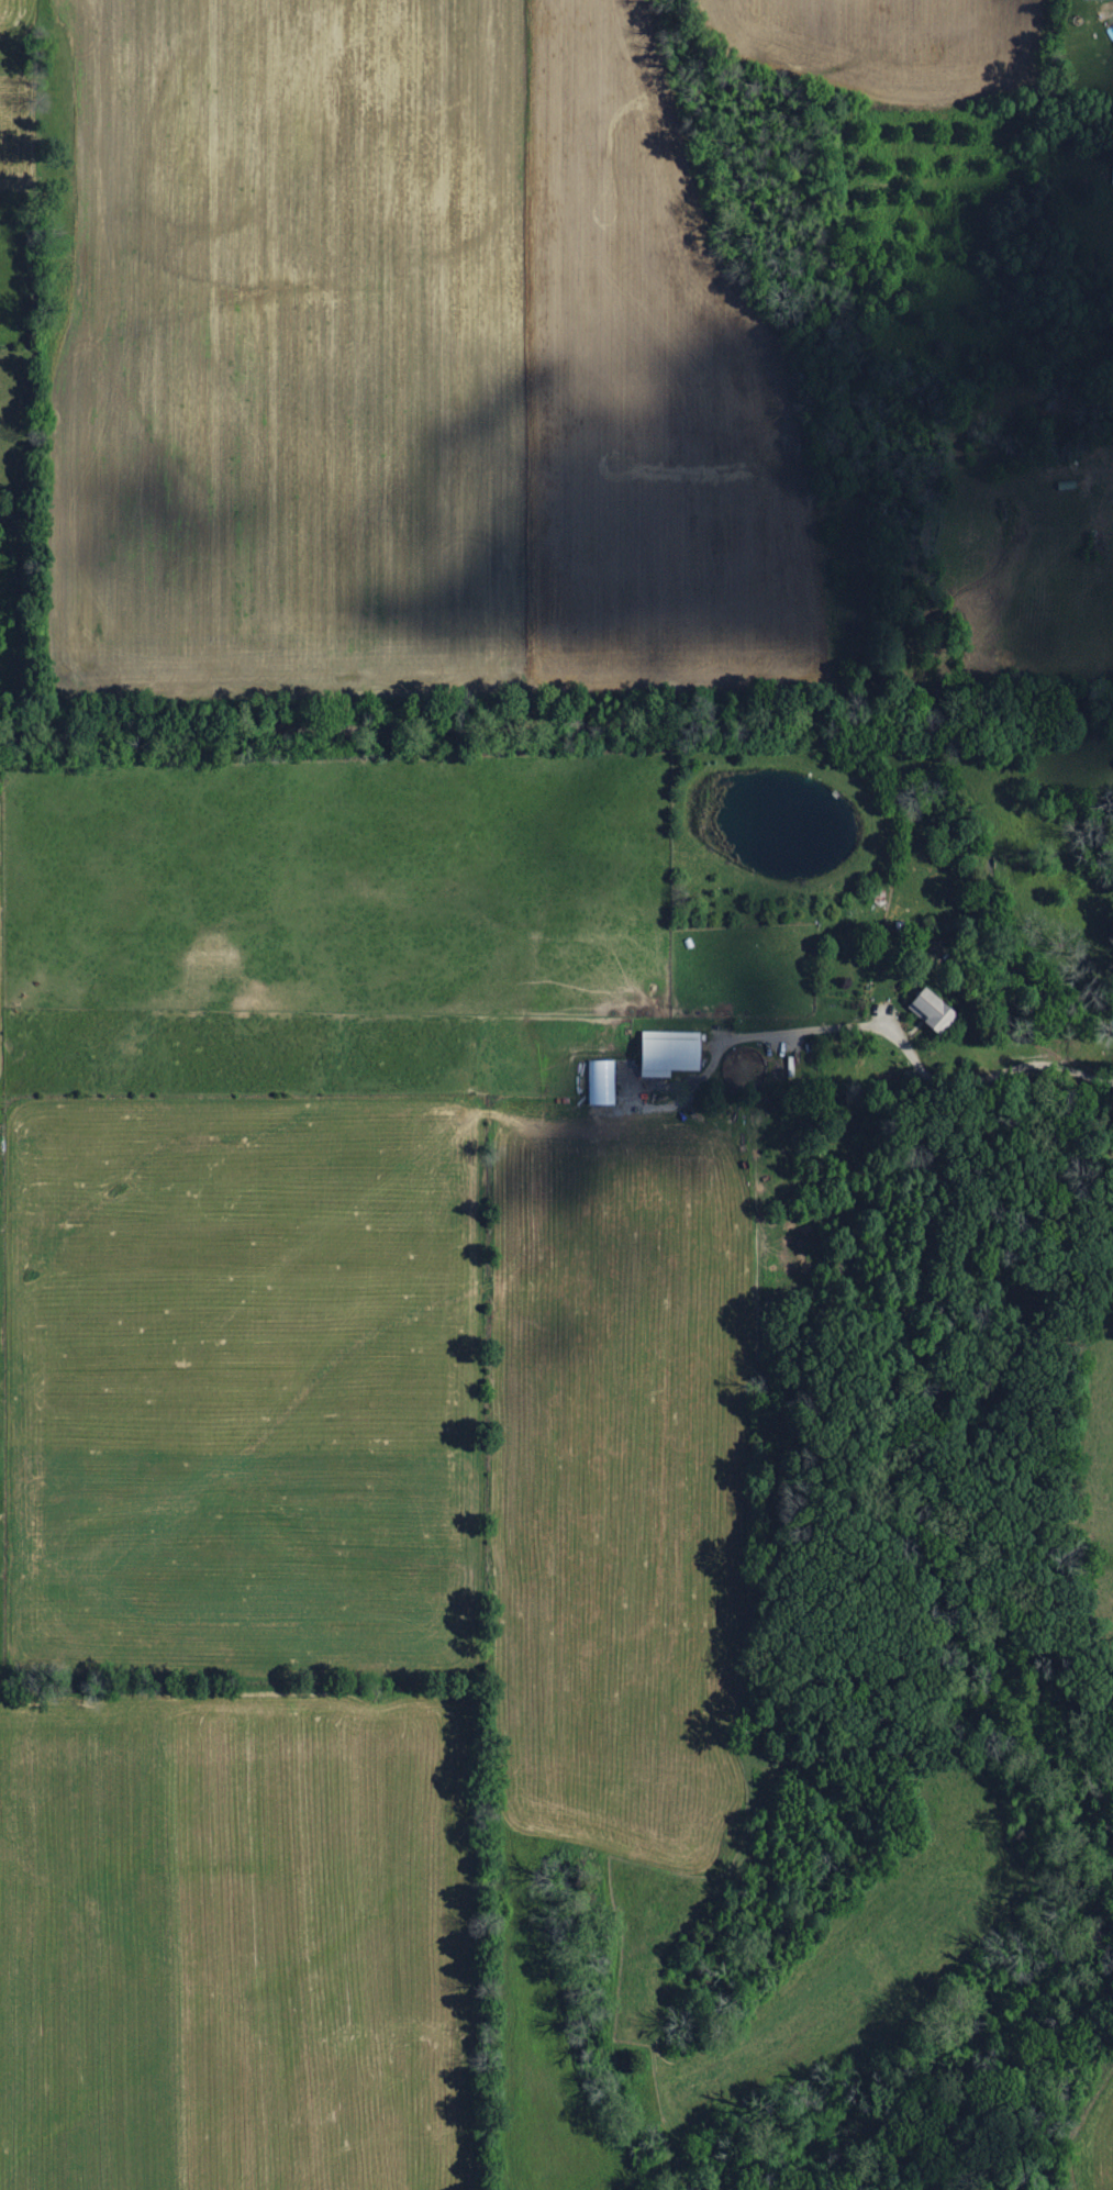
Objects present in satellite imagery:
building: (1112, 182)
building: (936, 1011)
building: (672, 1055)

